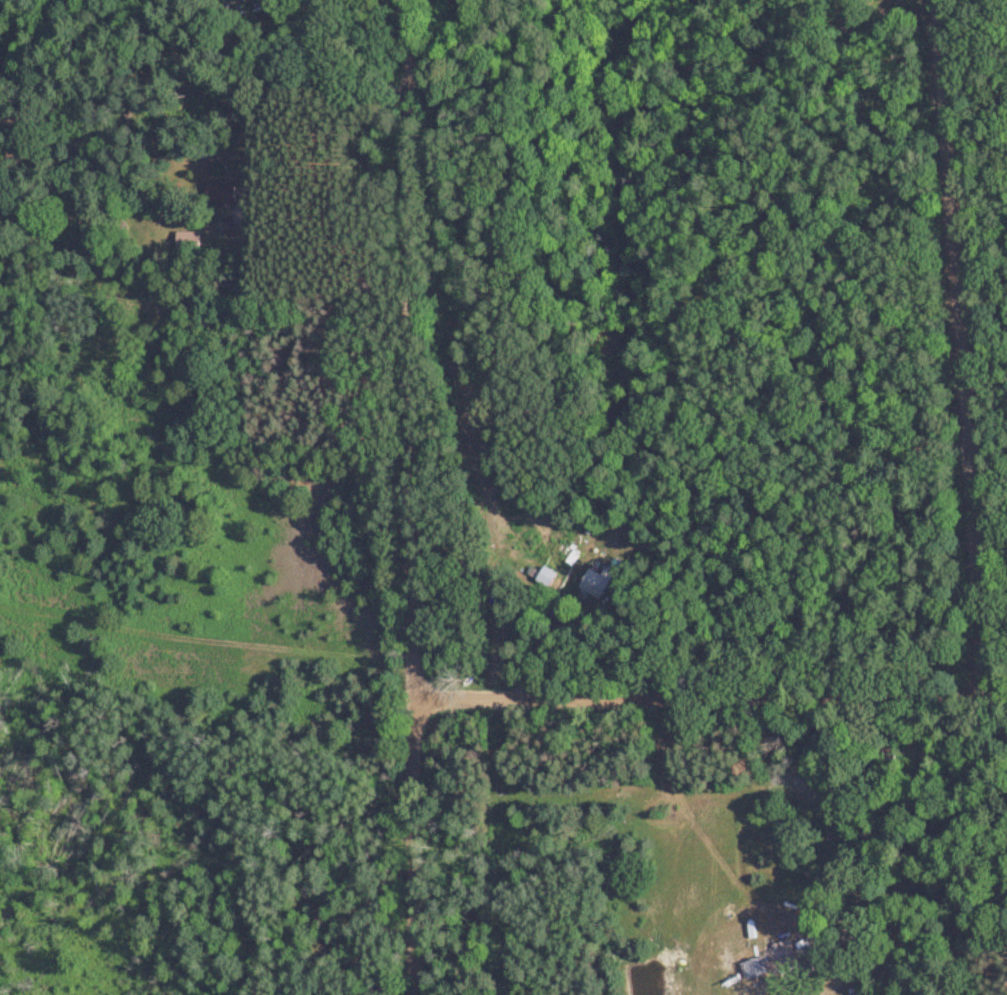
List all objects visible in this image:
road: (181, 55)
building: (187, 241)
road: (947, 334)
road: (416, 497)
building: (593, 584)
road: (710, 666)

